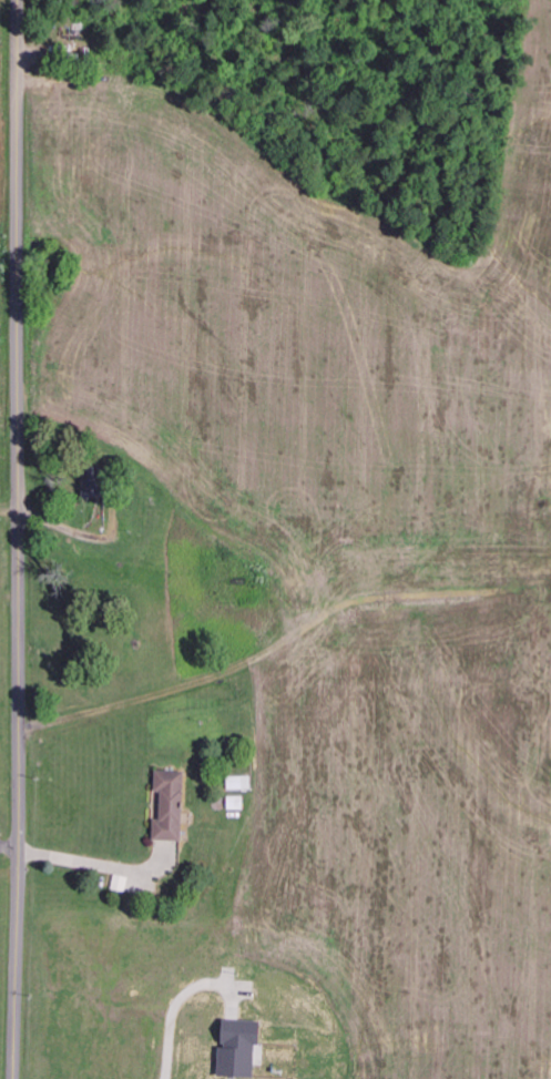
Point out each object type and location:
building: (95, 485)
road: (9, 511)
road: (19, 539)
building: (172, 805)
road: (9, 847)
building: (121, 883)
building: (242, 1048)

